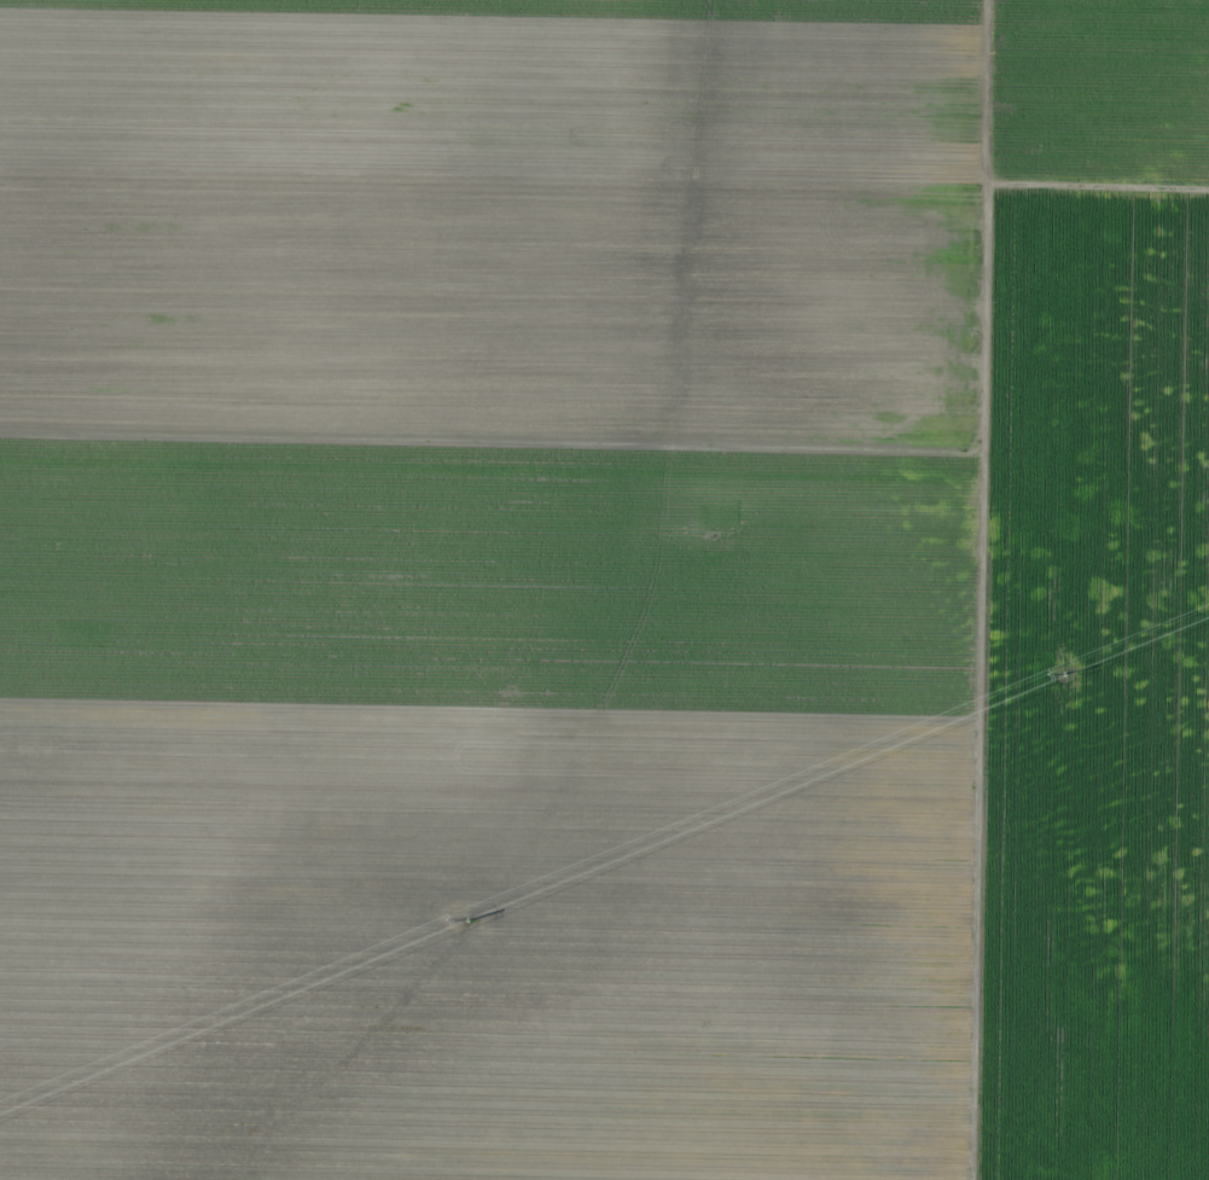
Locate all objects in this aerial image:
power tower: (1068, 673)
power tower: (466, 920)

